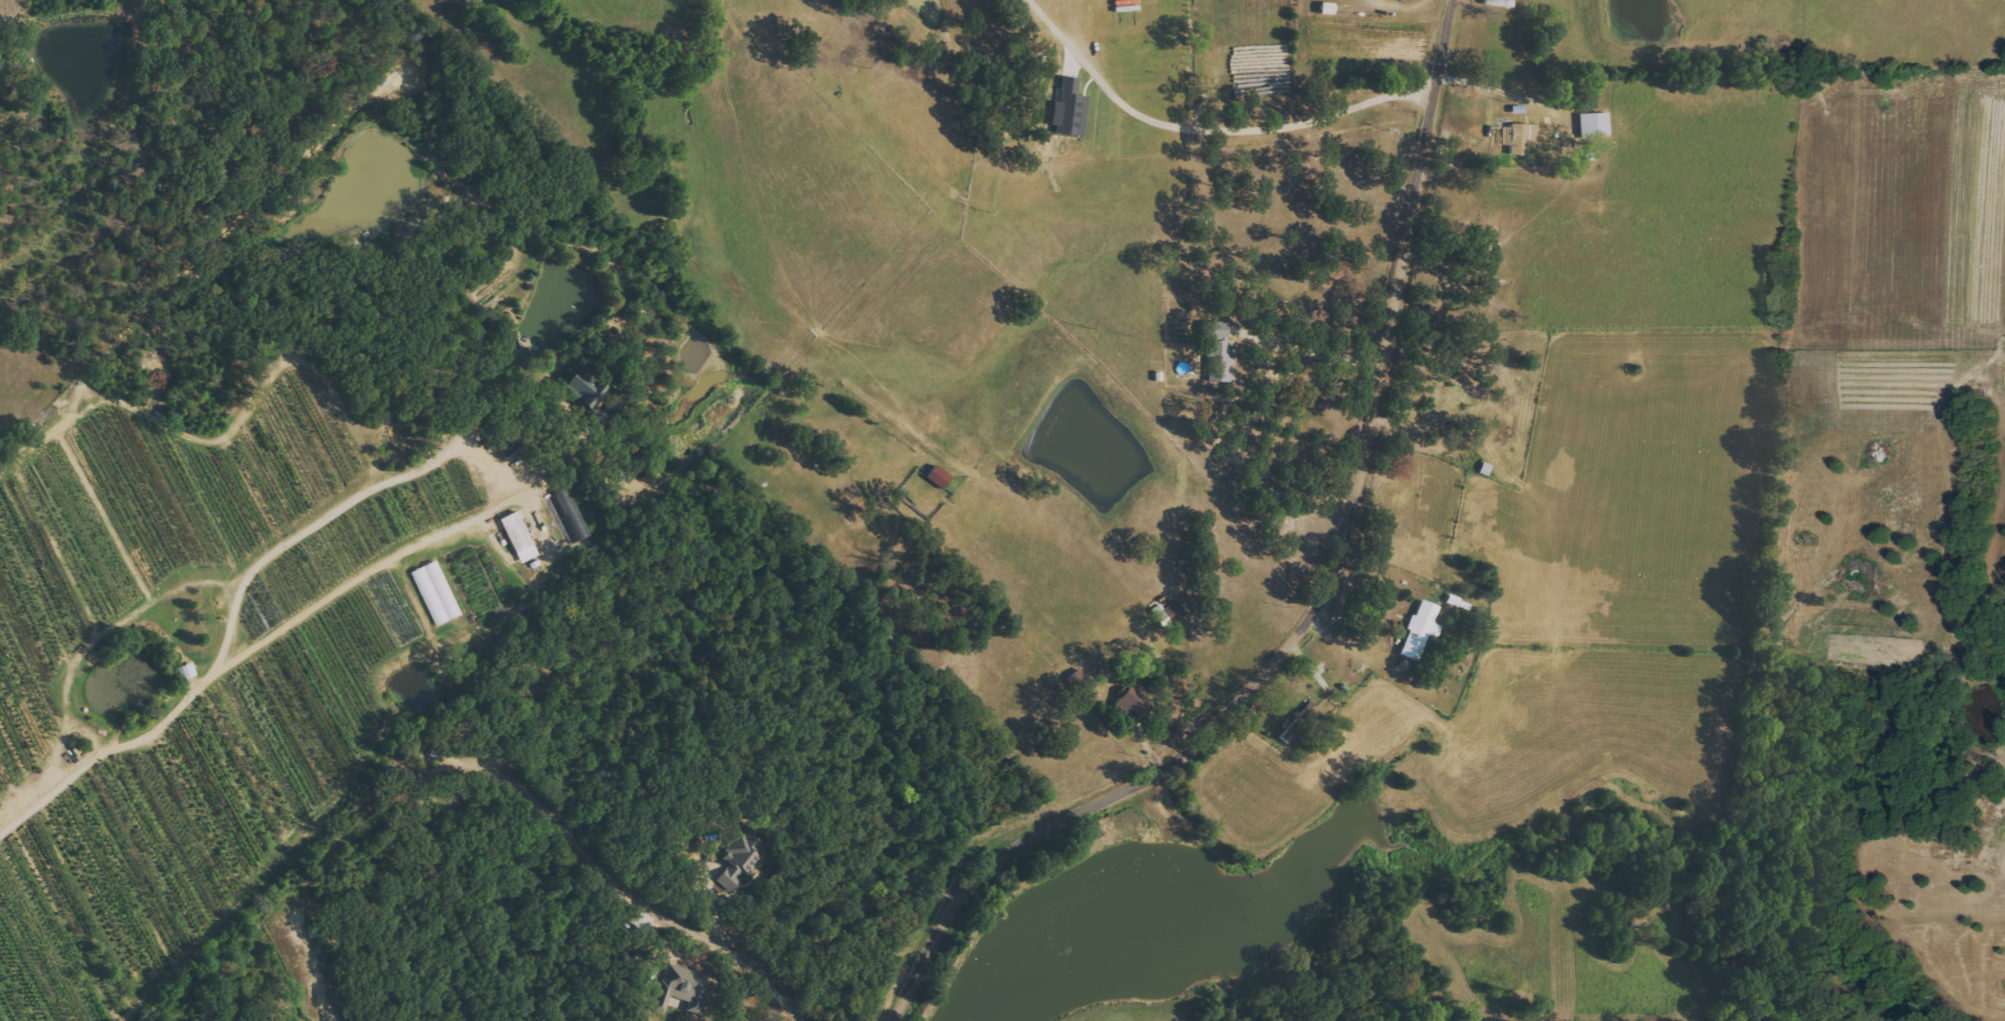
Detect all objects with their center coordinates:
building: (1510, 0)
building: (1494, 2)
building: (1328, 9)
building: (1071, 110)
building: (1596, 124)
road: (1212, 126)
building: (1524, 138)
road: (1310, 351)
building: (1220, 352)
road: (553, 391)
building: (586, 391)
road: (491, 458)
building: (940, 476)
building: (520, 536)
building: (437, 593)
road: (1328, 603)
building: (1175, 611)
building: (1422, 629)
building: (189, 670)
building: (1080, 679)
building: (1134, 703)
building: (1300, 722)
road: (106, 745)
building: (743, 859)
road: (752, 963)
building: (683, 988)

